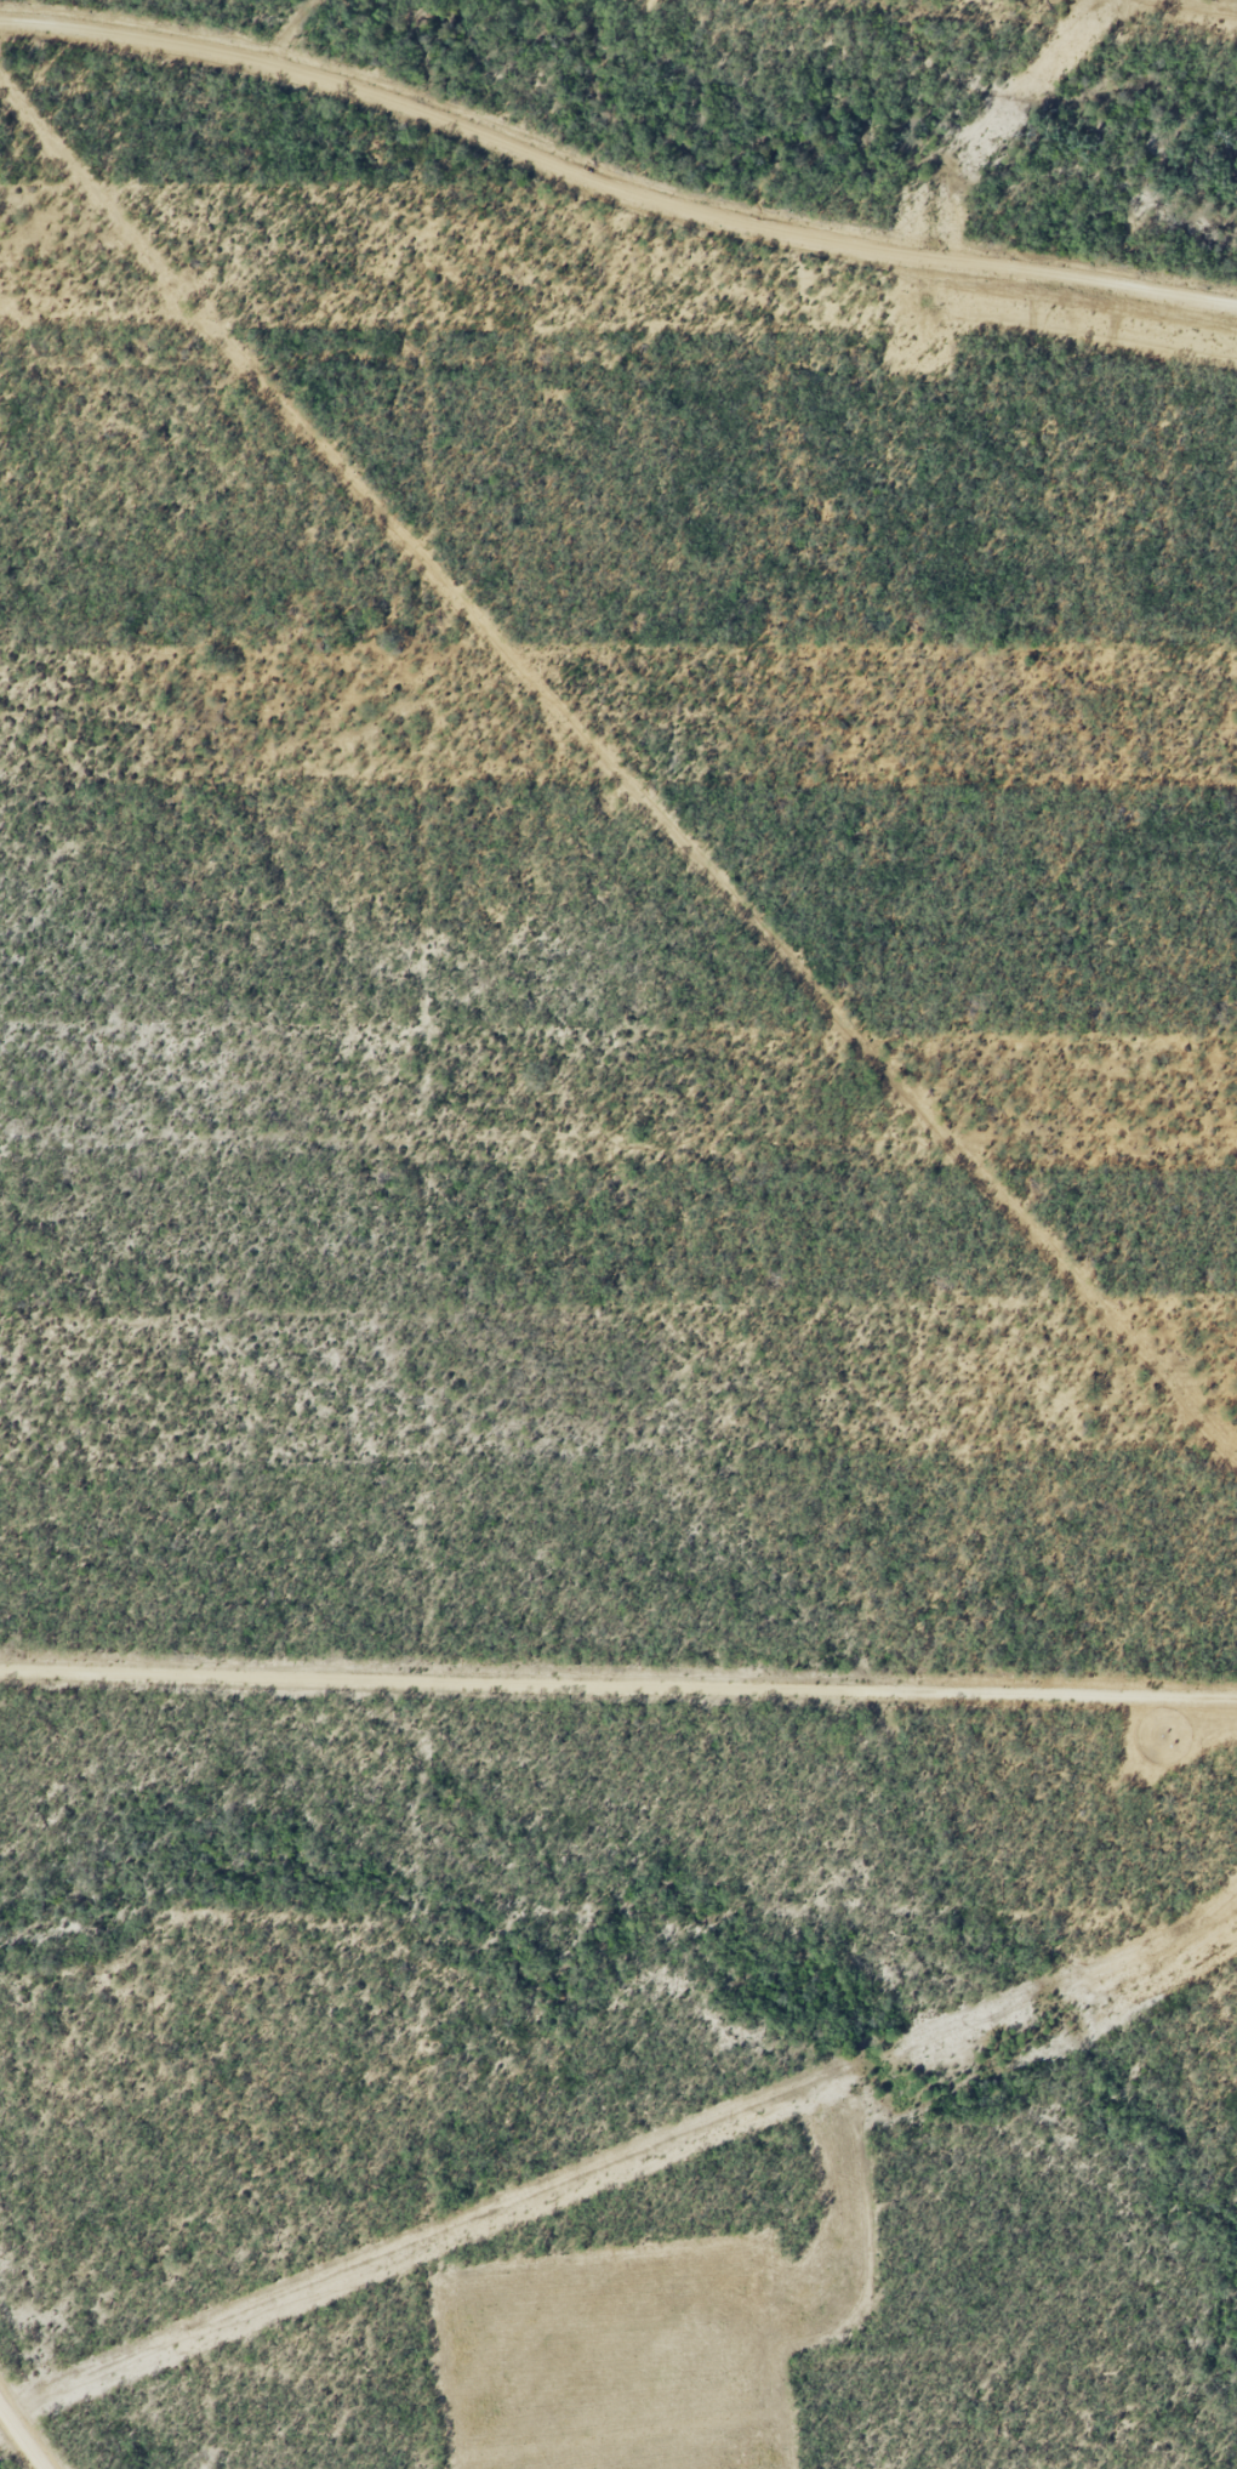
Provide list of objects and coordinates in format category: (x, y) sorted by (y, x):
road: (24, 2434)

